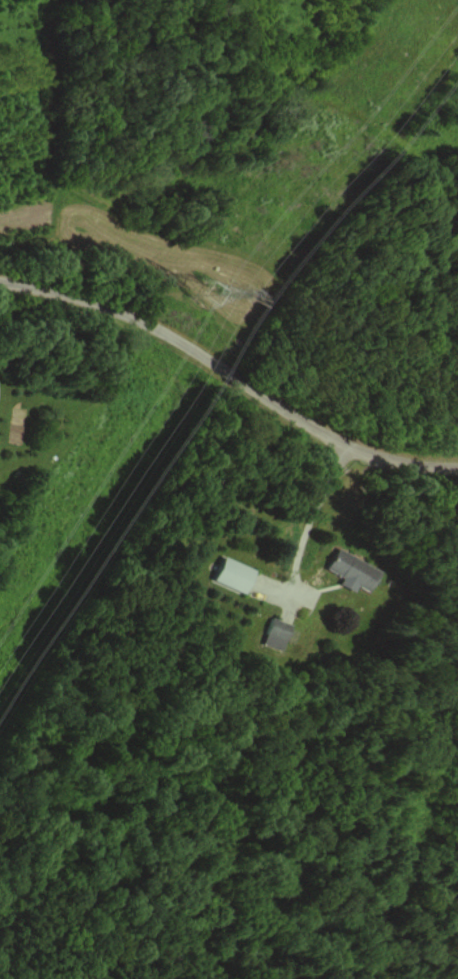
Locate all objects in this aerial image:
power tower: (187, 294)
road: (231, 370)
road: (314, 520)
building: (349, 570)
building: (230, 574)
building: (279, 629)

